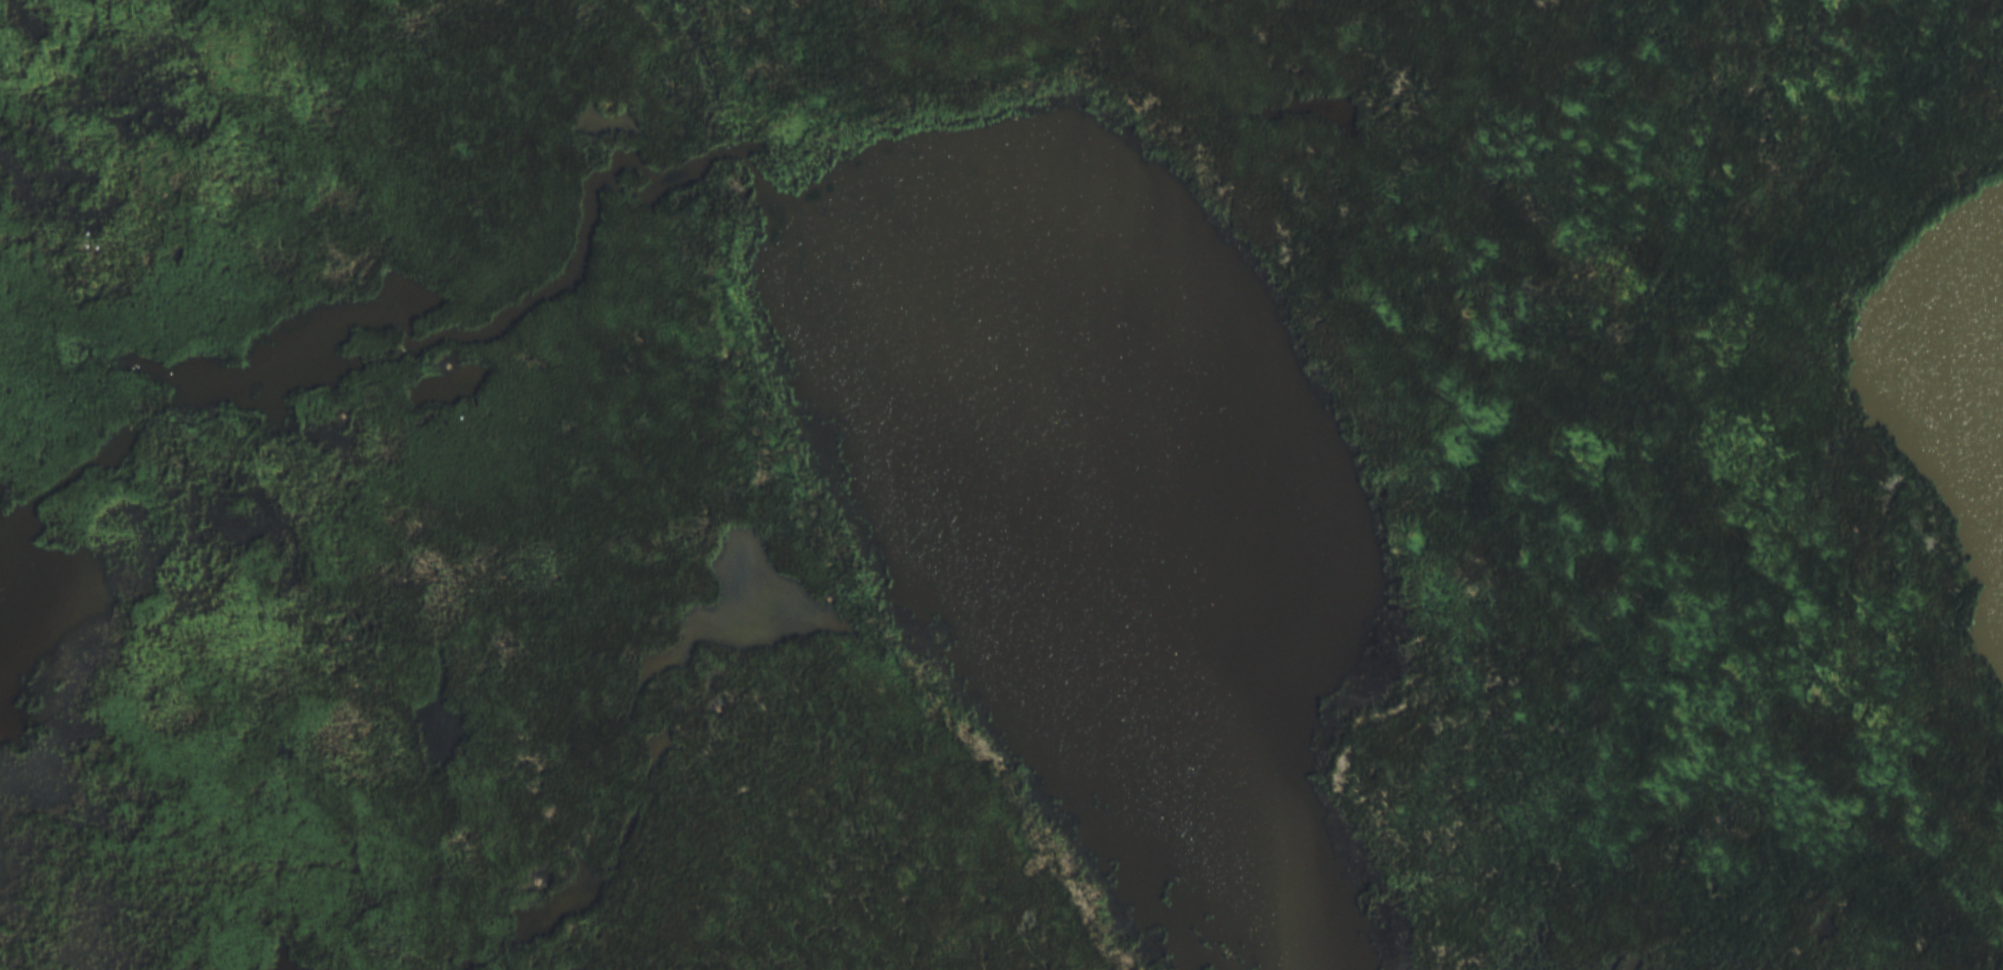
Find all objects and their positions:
river: (865, 485)

